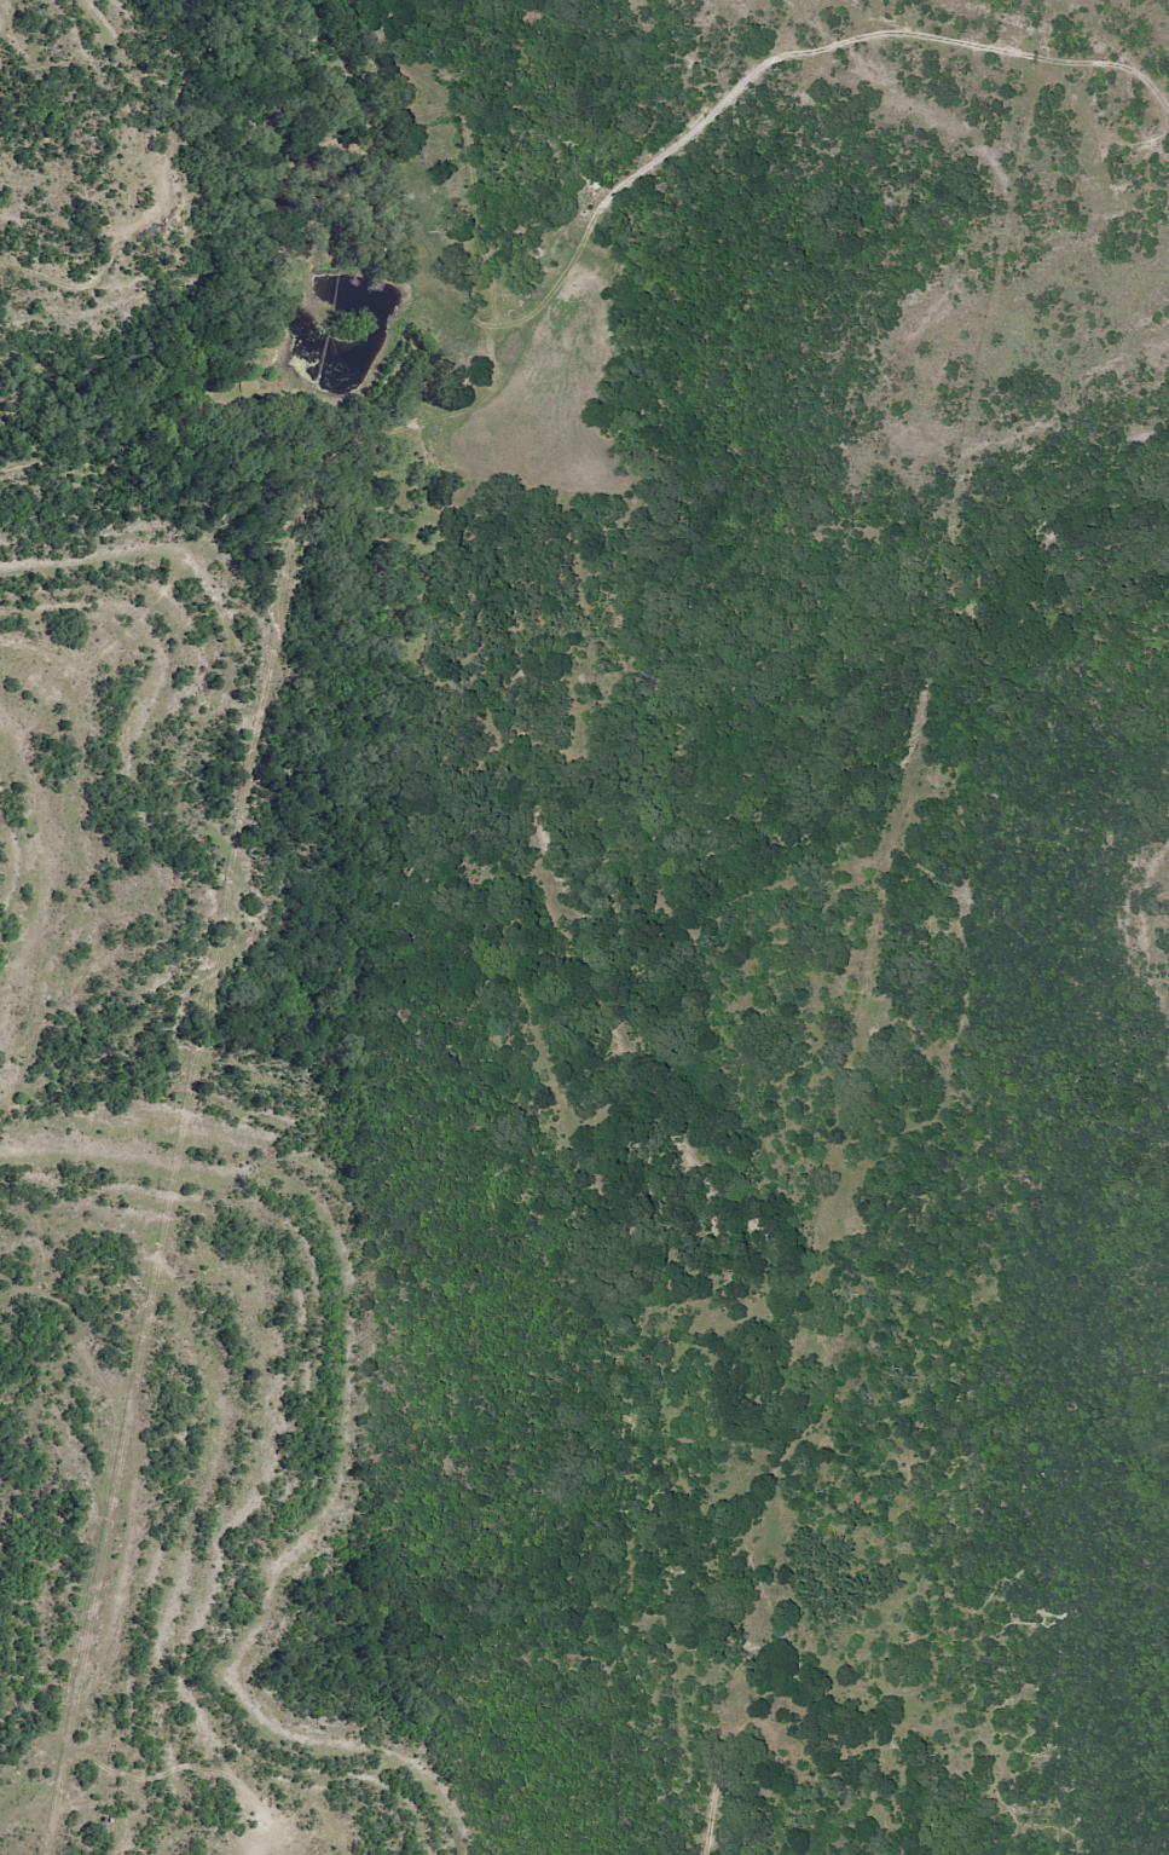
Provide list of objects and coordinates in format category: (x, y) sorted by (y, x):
road: (569, 244)
road: (606, 1204)

